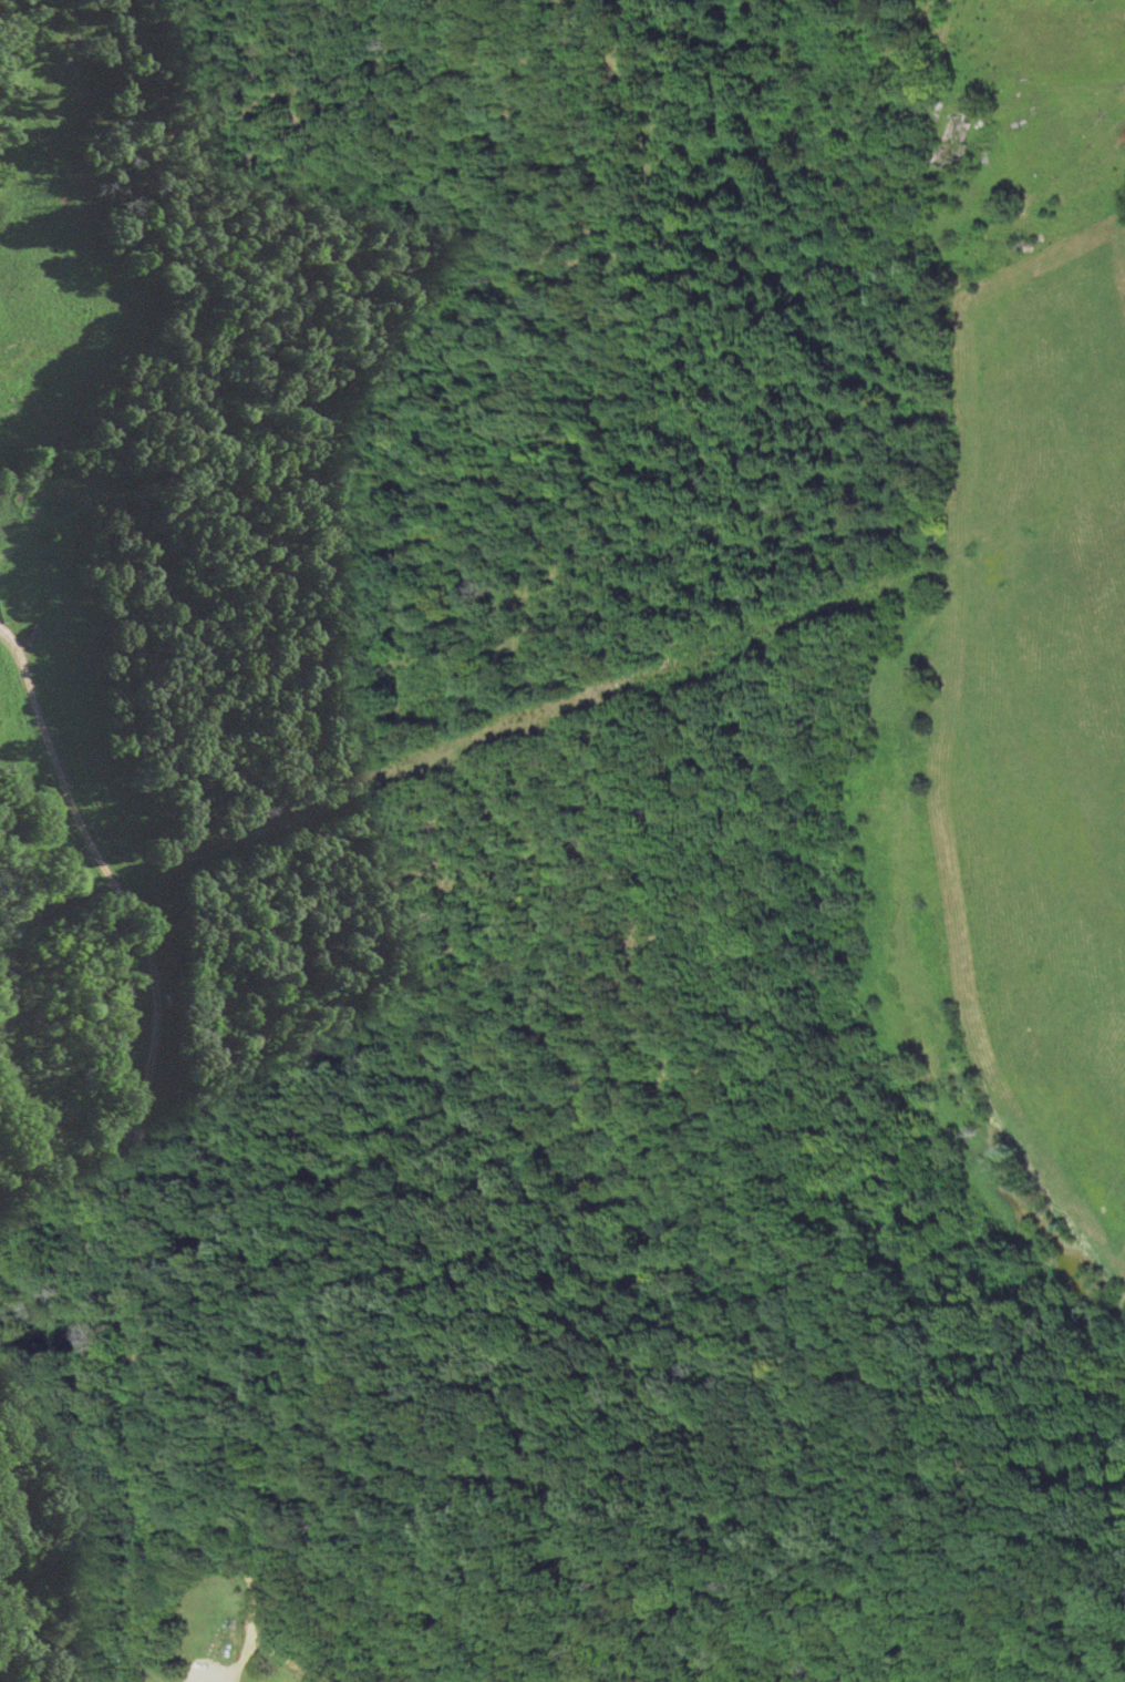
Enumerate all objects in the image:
road: (156, 1175)
road: (1123, 1337)
building: (213, 1643)

